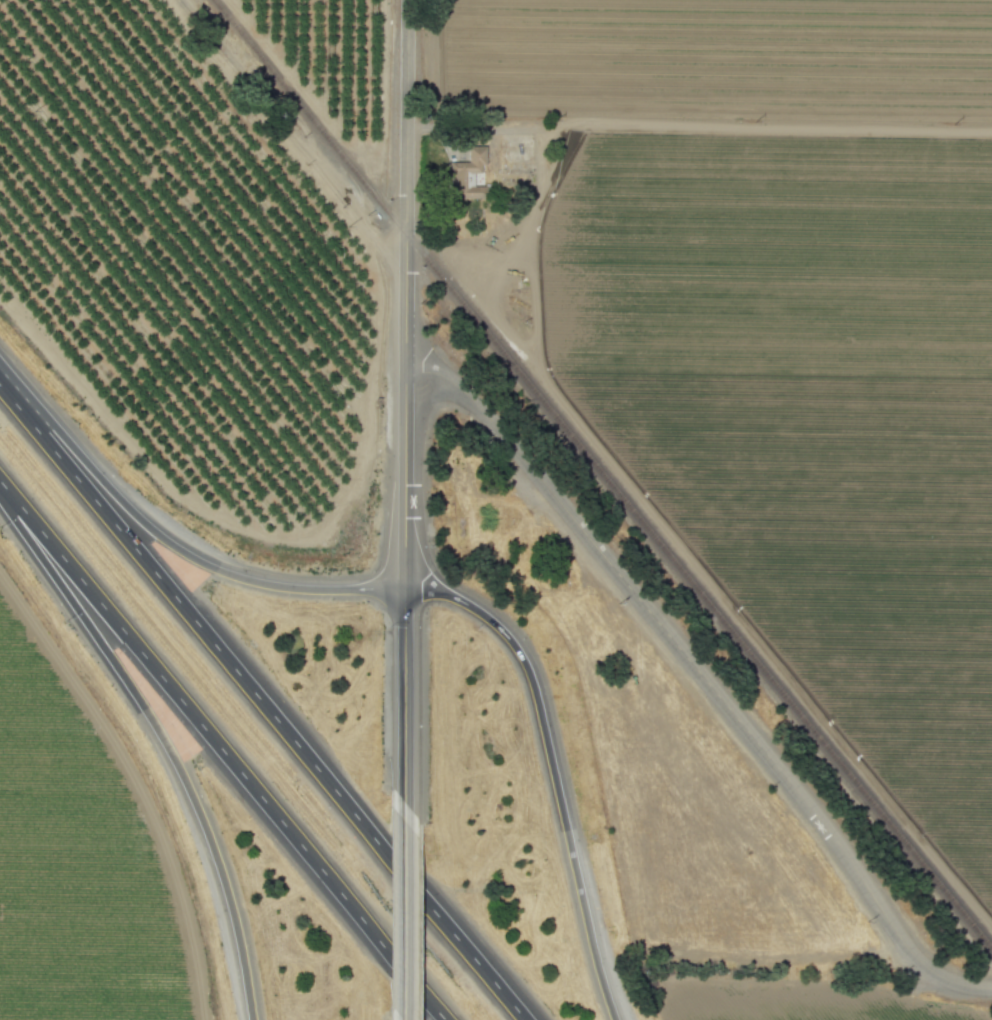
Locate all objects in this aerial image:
road: (699, 126)
building: (474, 157)
road: (405, 293)
railway: (602, 474)
road: (171, 545)
road: (702, 677)
road: (262, 703)
road: (404, 705)
road: (163, 741)
road: (222, 750)
road: (552, 768)
road: (404, 921)

